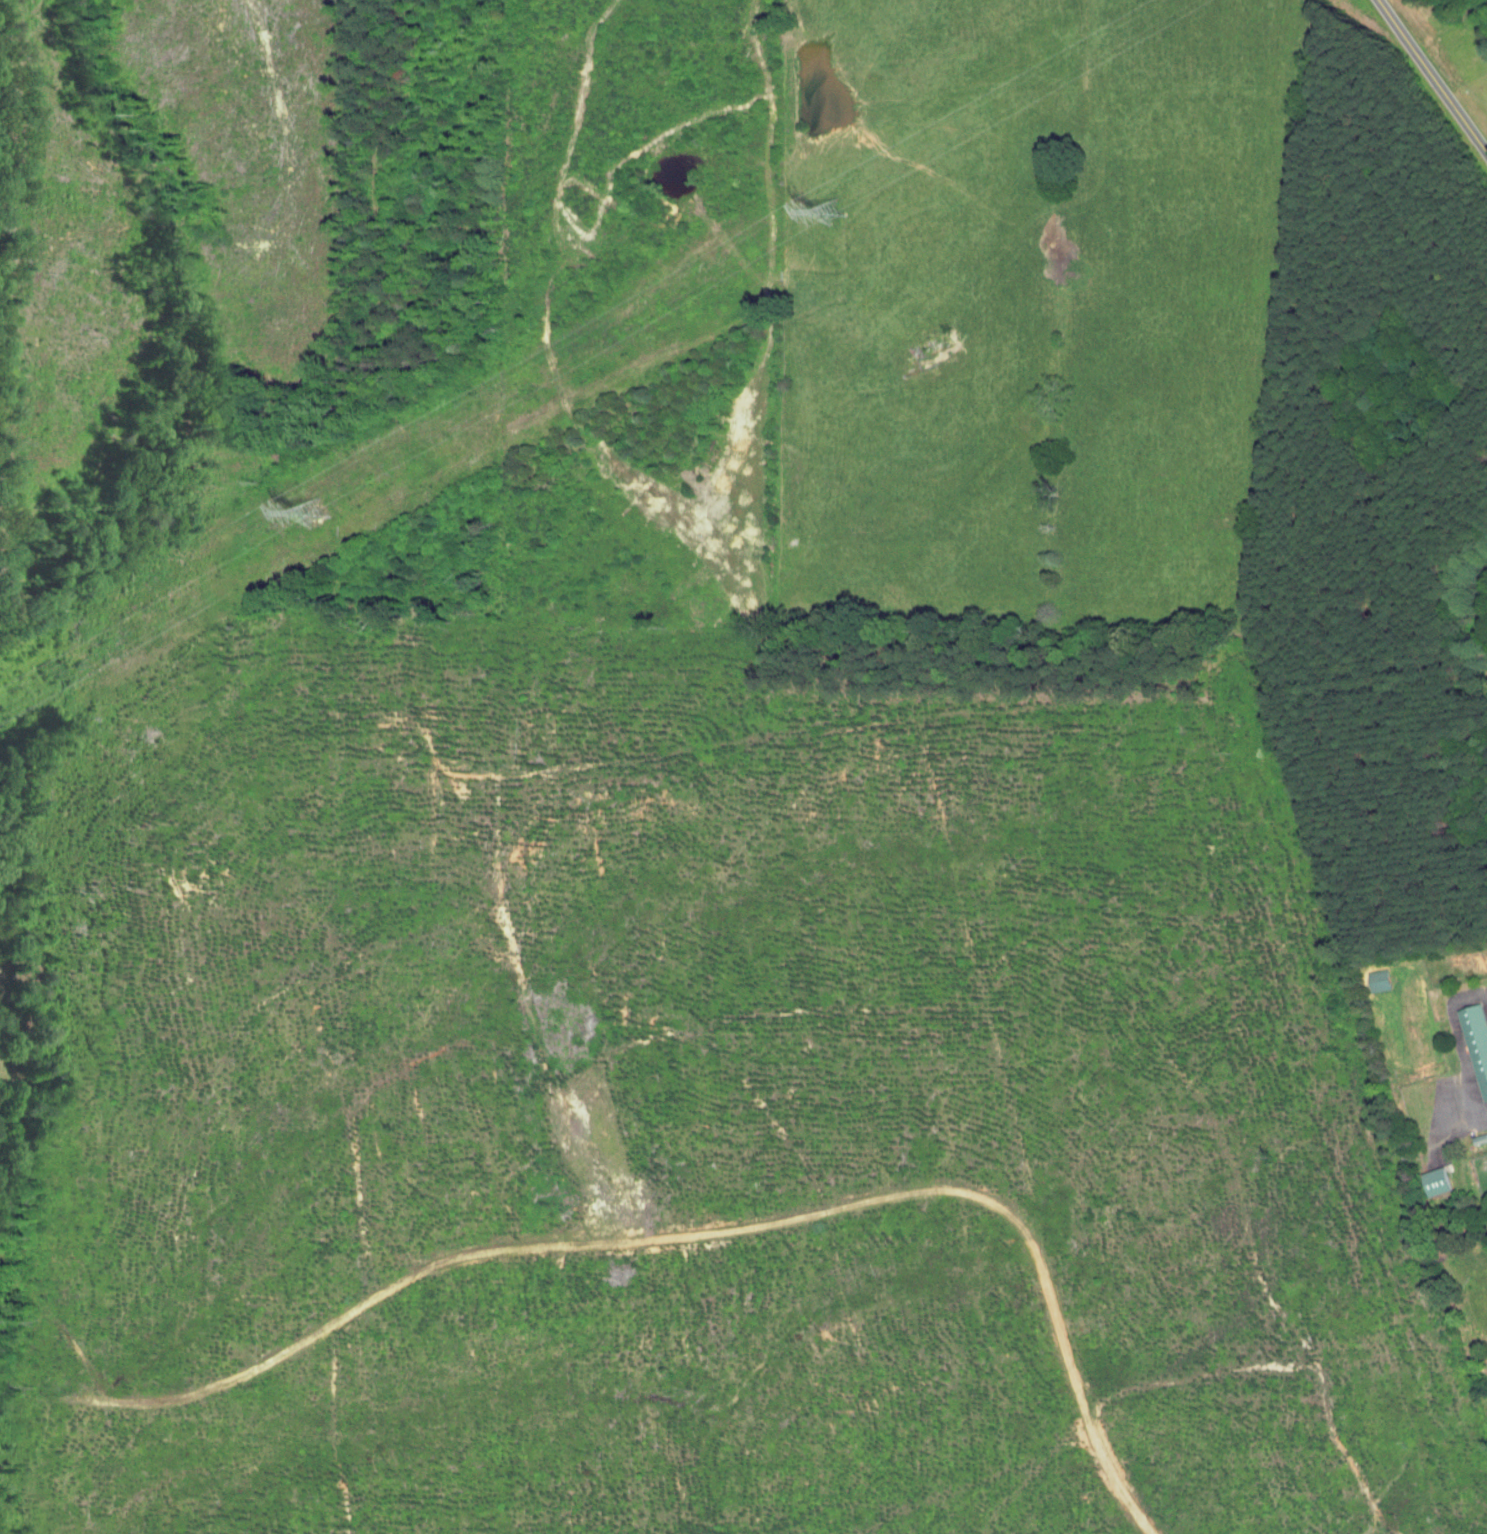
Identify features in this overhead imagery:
road: (1432, 76)
power tower: (832, 212)
power tower: (314, 513)
building: (1378, 980)
road: (1458, 1040)
building: (1475, 1044)
road: (1460, 1127)
building: (1434, 1182)
building: (1486, 1385)

